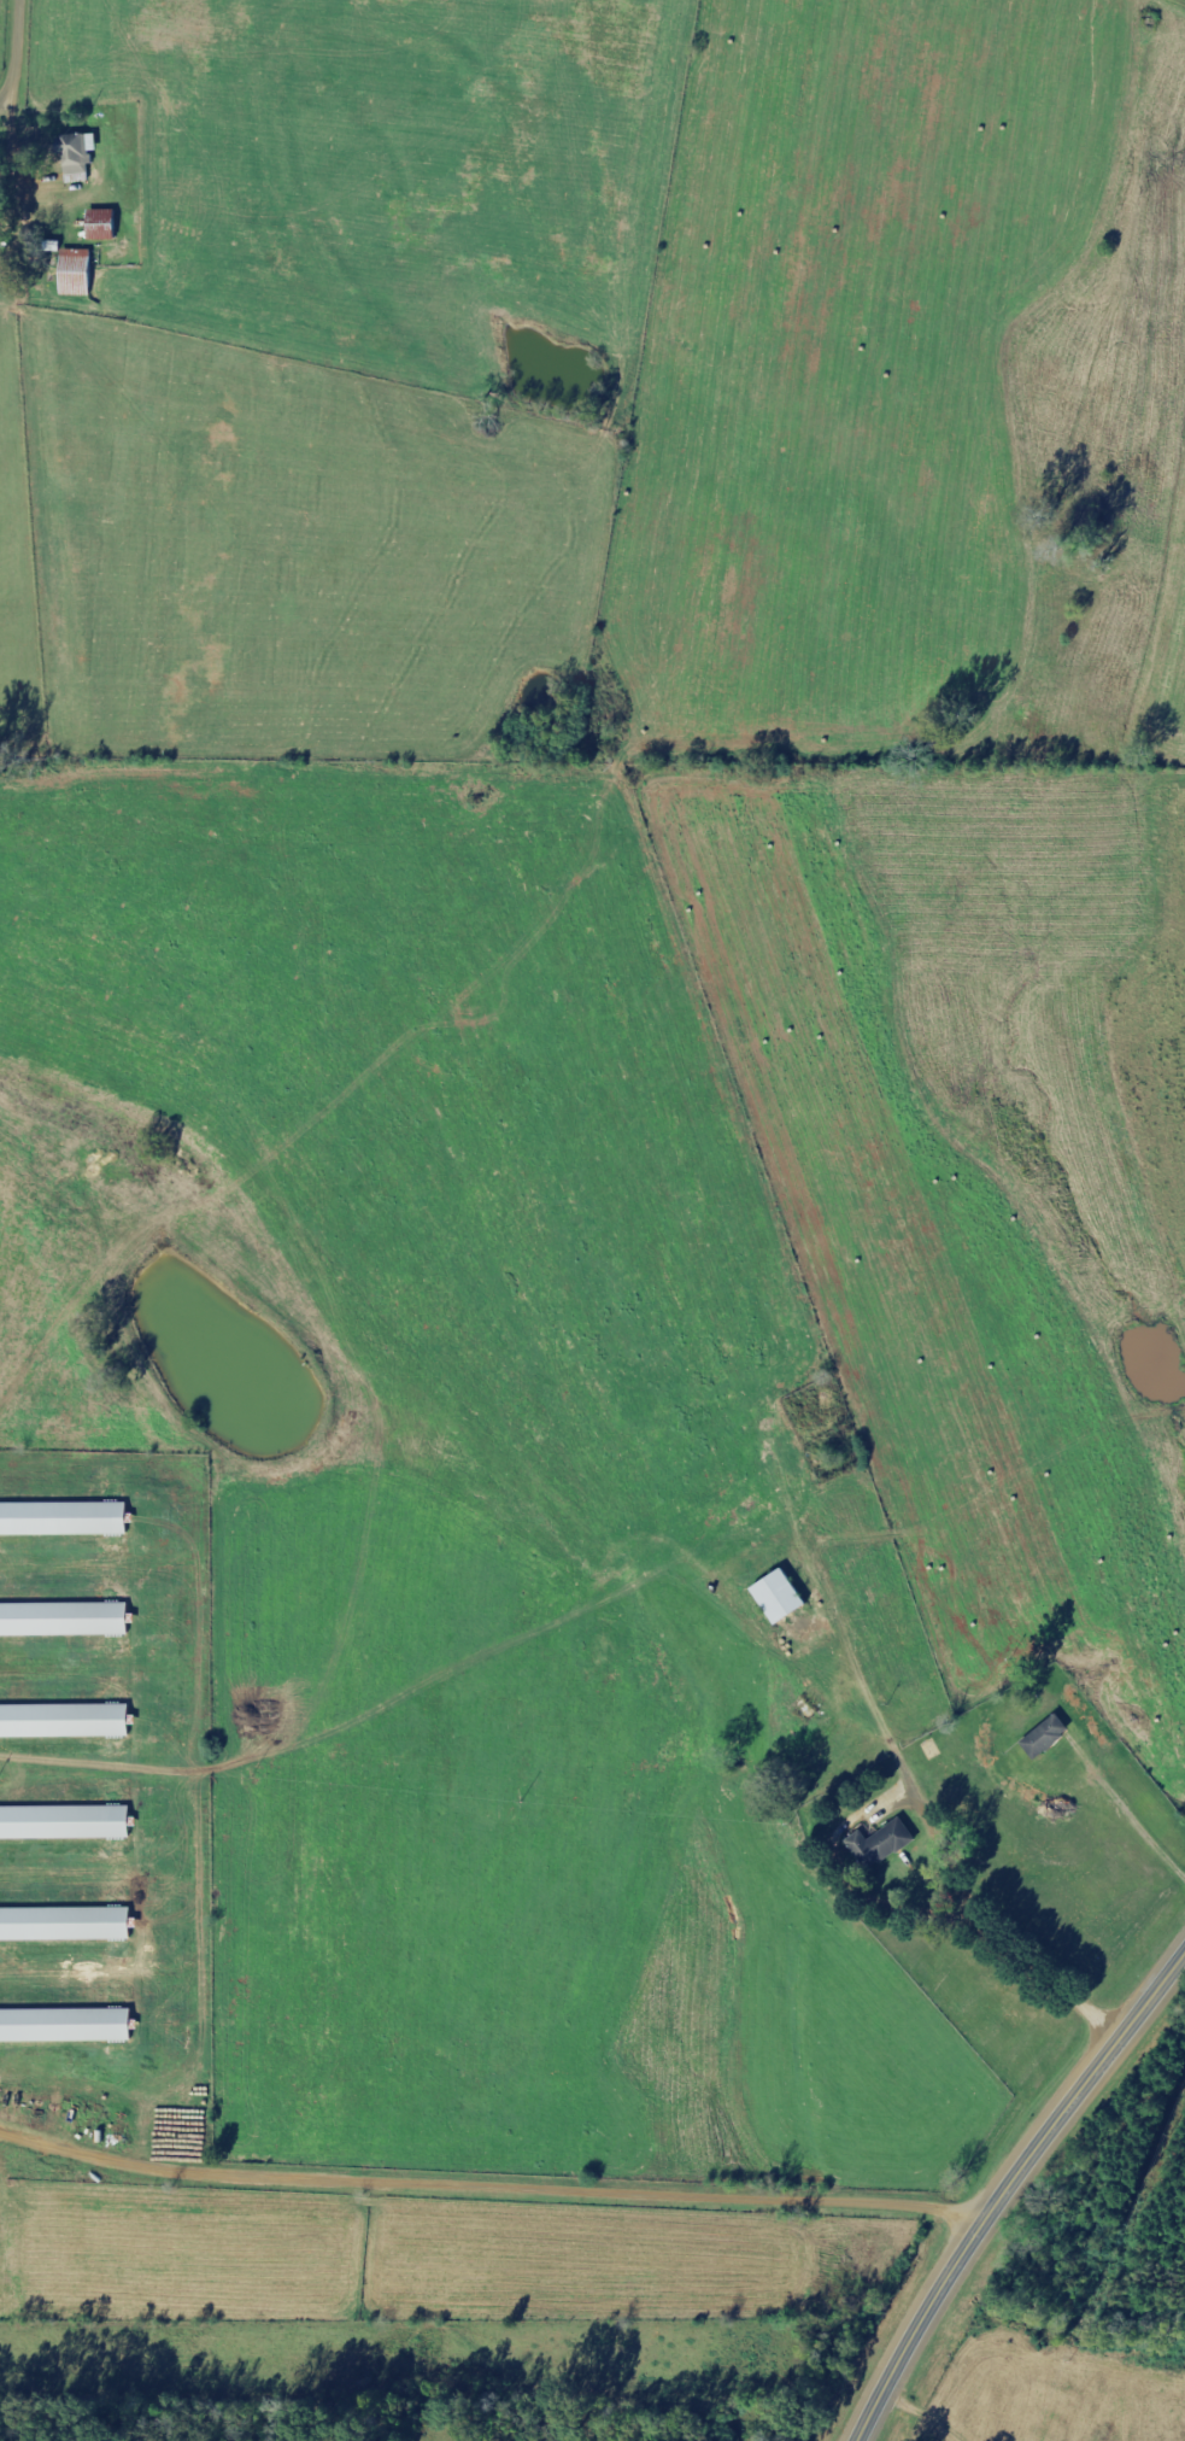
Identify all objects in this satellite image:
road: (33, 81)
building: (81, 154)
building: (106, 226)
building: (66, 1520)
building: (785, 1598)
building: (66, 1620)
building: (68, 1722)
building: (1051, 1738)
building: (68, 1824)
building: (885, 1845)
building: (69, 1925)
building: (69, 2027)
road: (1005, 2185)
road: (488, 2189)

